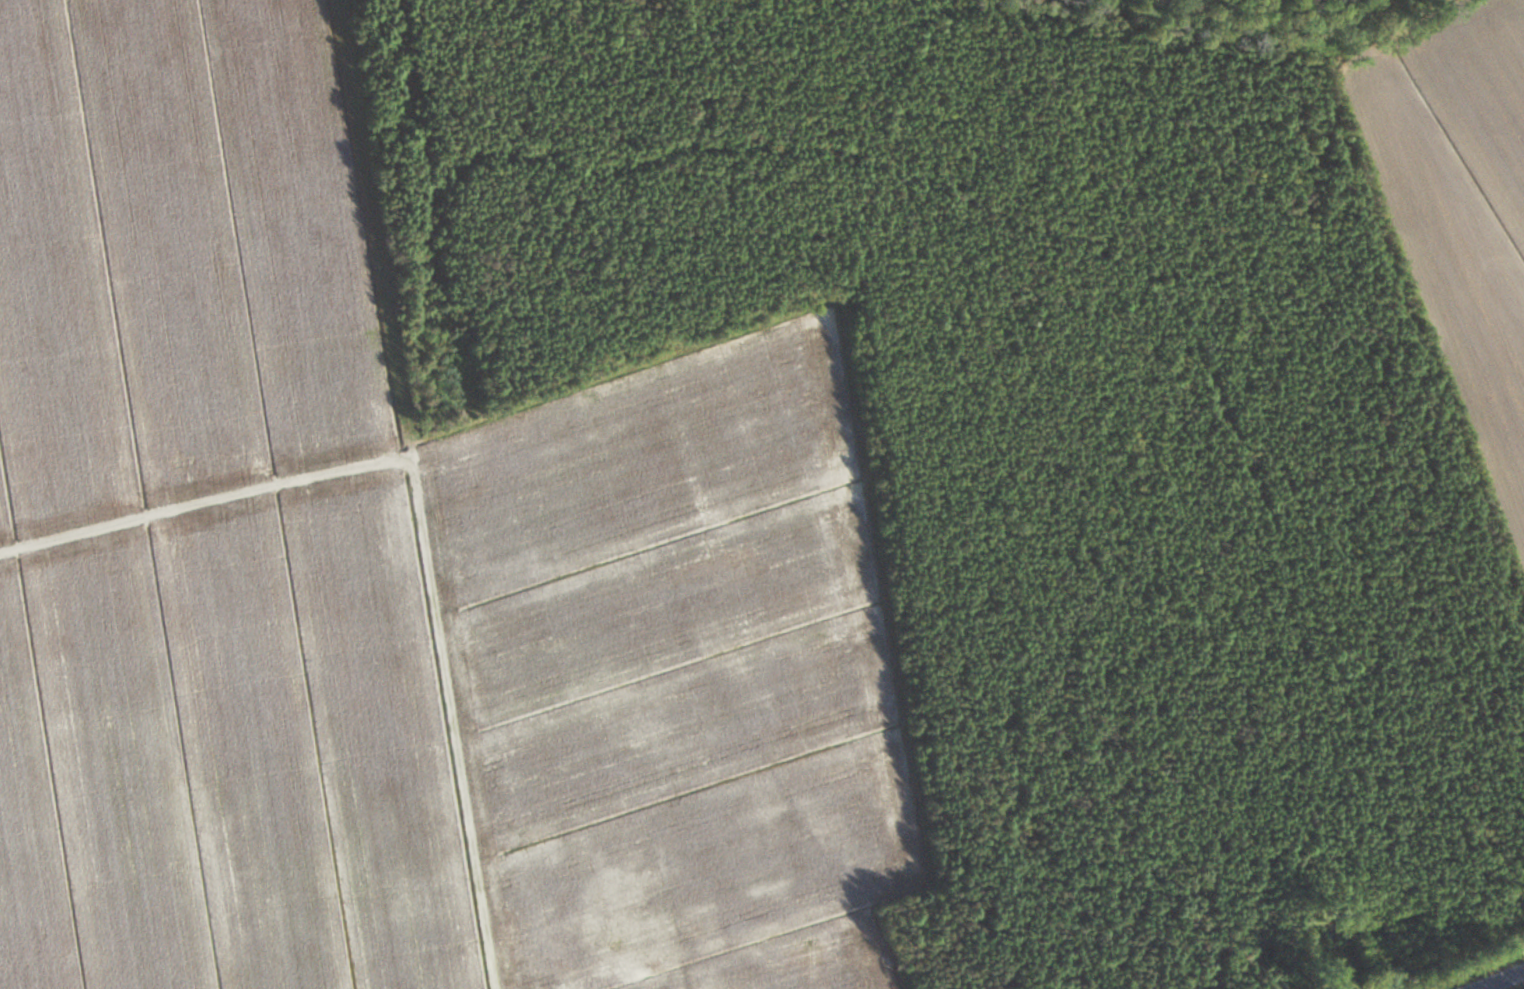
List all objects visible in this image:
building: (1333, 937)
road: (1498, 978)

